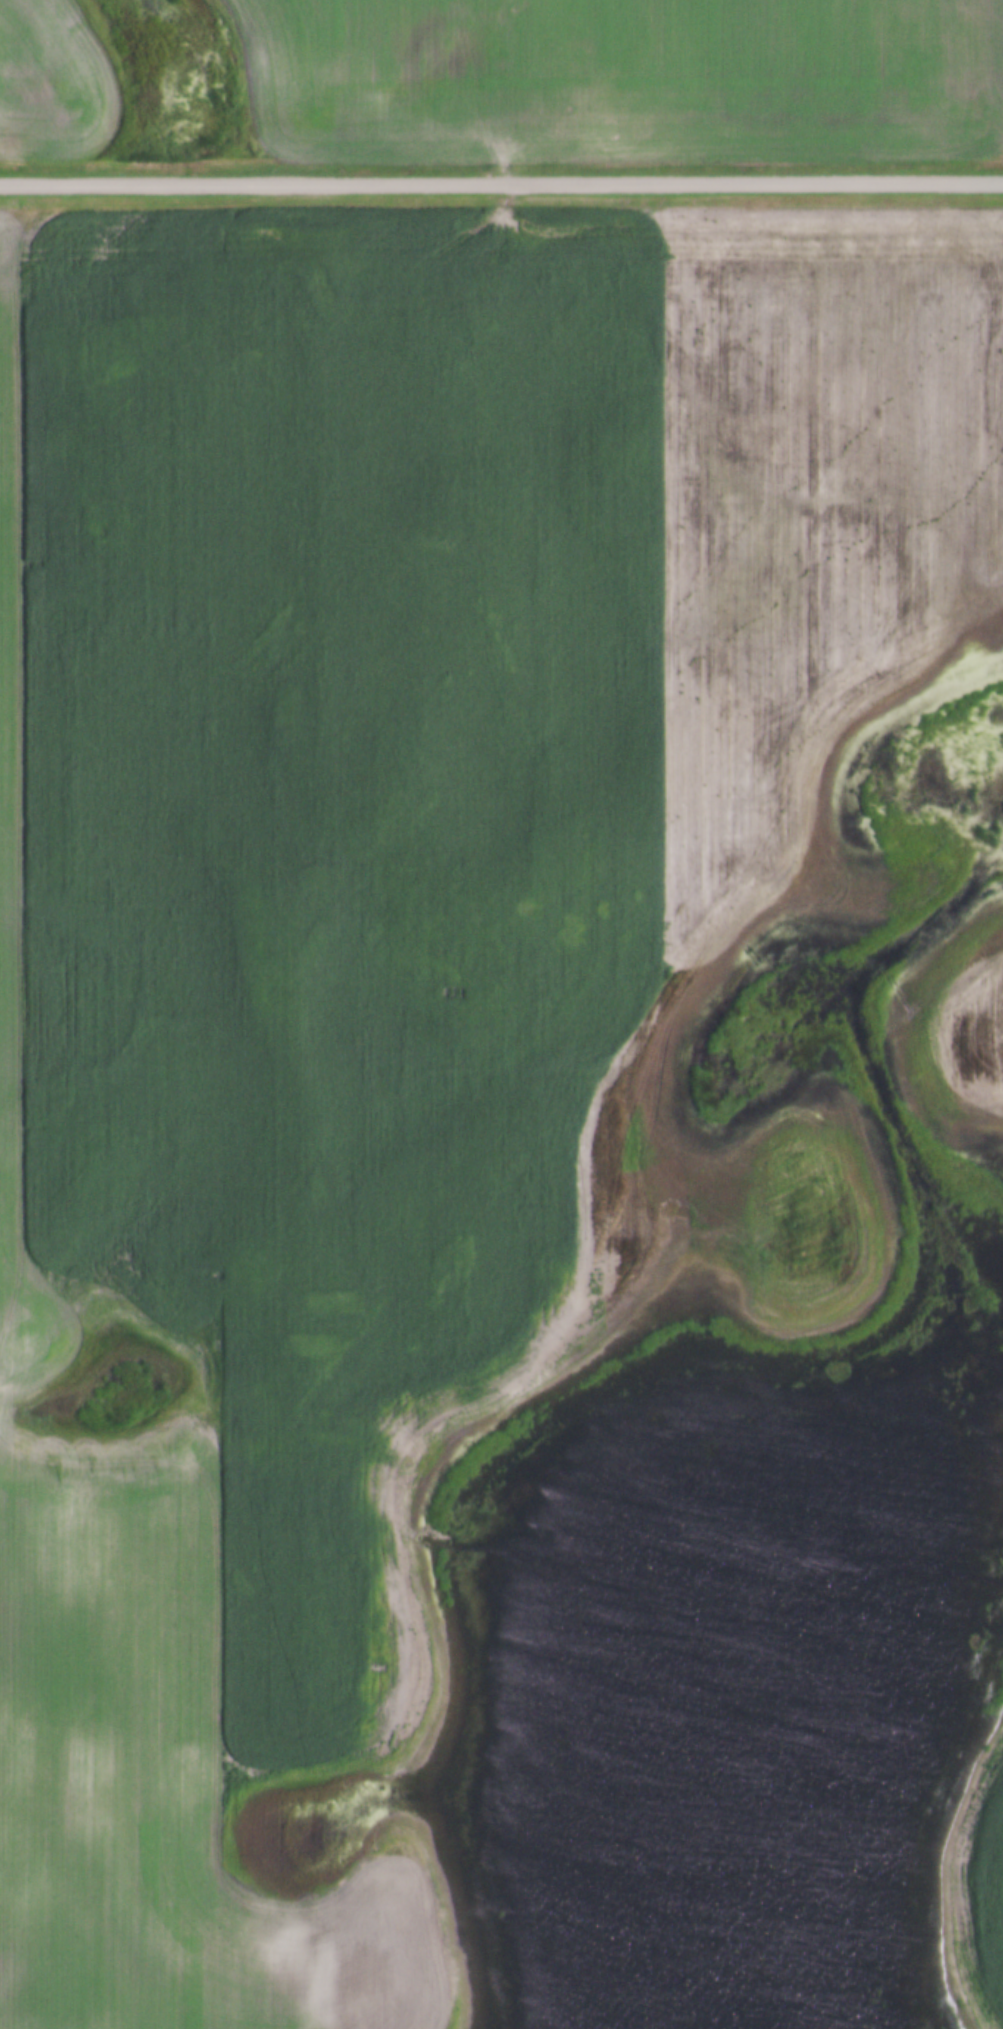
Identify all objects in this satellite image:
road: (501, 179)

